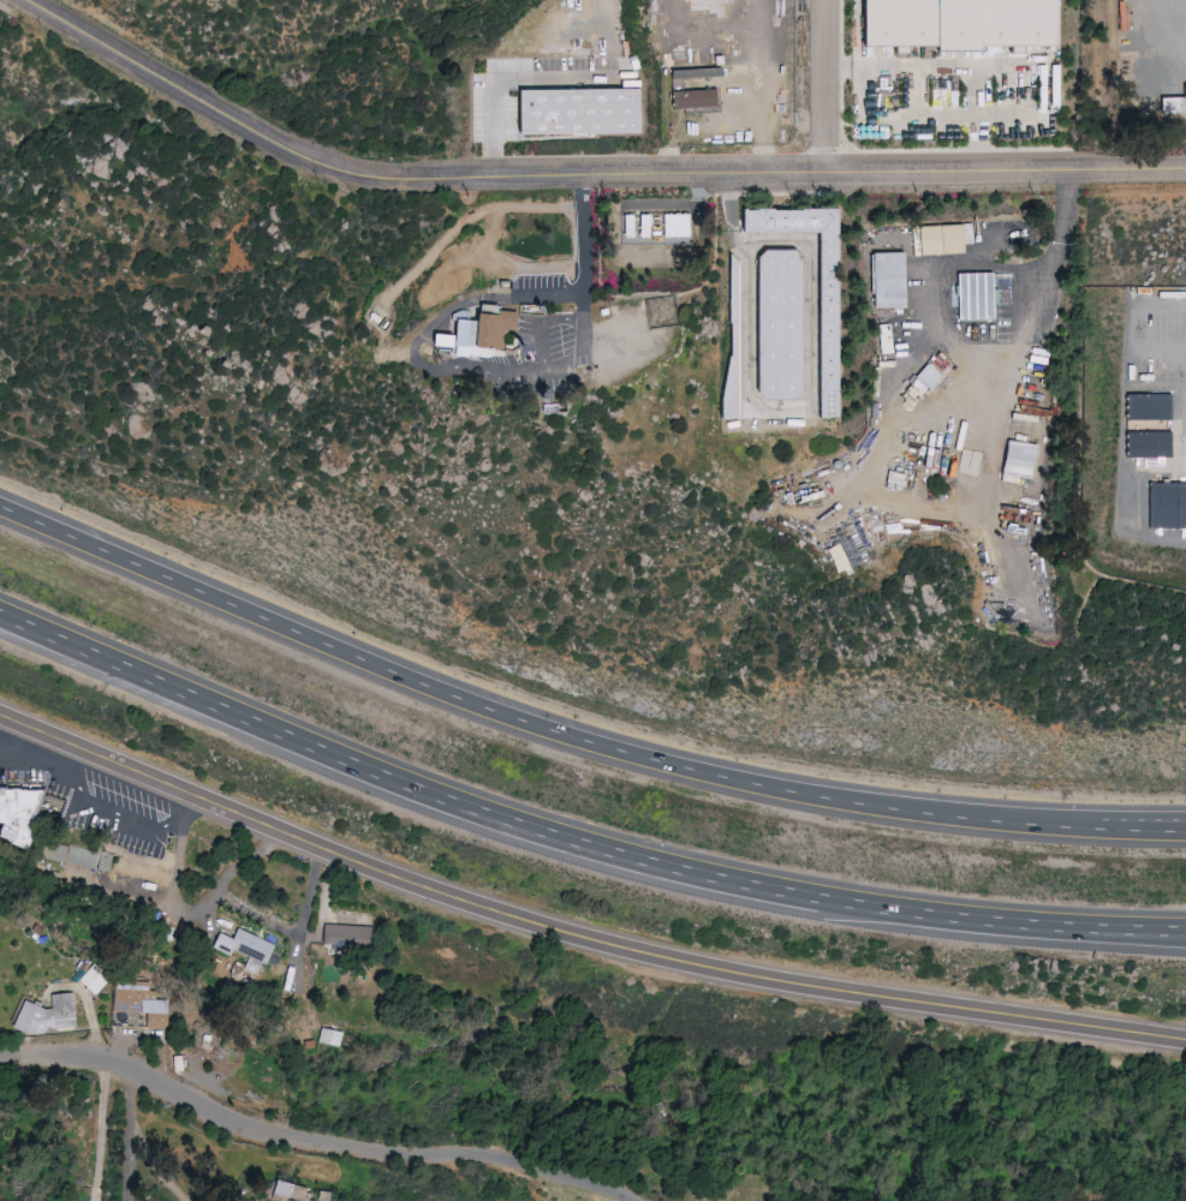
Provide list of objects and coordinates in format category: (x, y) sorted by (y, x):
building: (954, 24)
road: (902, 65)
road: (824, 88)
building: (697, 101)
building: (1174, 104)
building: (578, 113)
road: (584, 178)
road: (1066, 220)
building: (675, 225)
building: (940, 239)
building: (887, 280)
building: (973, 295)
road: (1133, 323)
building: (777, 324)
road: (947, 329)
building: (473, 330)
building: (886, 339)
building: (437, 340)
building: (826, 353)
road: (491, 368)
building: (926, 376)
building: (1148, 406)
building: (1148, 443)
building: (1018, 458)
building: (970, 462)
building: (1168, 506)
road: (479, 700)
road: (4, 723)
building: (25, 813)
road: (1084, 819)
road: (541, 827)
road: (1084, 831)
building: (70, 854)
road: (205, 909)
road: (1150, 927)
road: (1150, 931)
building: (348, 937)
road: (576, 937)
building: (244, 945)
building: (139, 1004)
building: (47, 1016)
building: (329, 1038)
road: (131, 1097)
road: (101, 1131)
road: (311, 1142)
road: (129, 1161)
road: (156, 1163)
building: (290, 1190)

